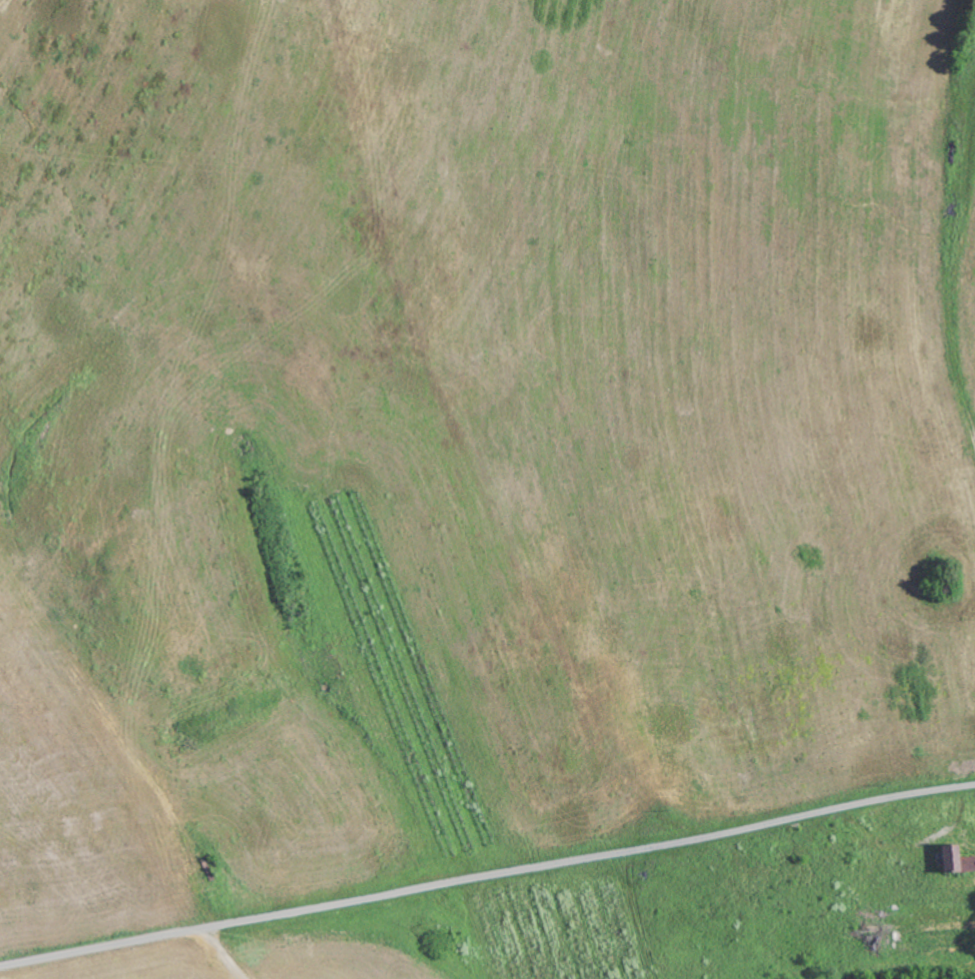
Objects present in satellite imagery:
road: (487, 874)

